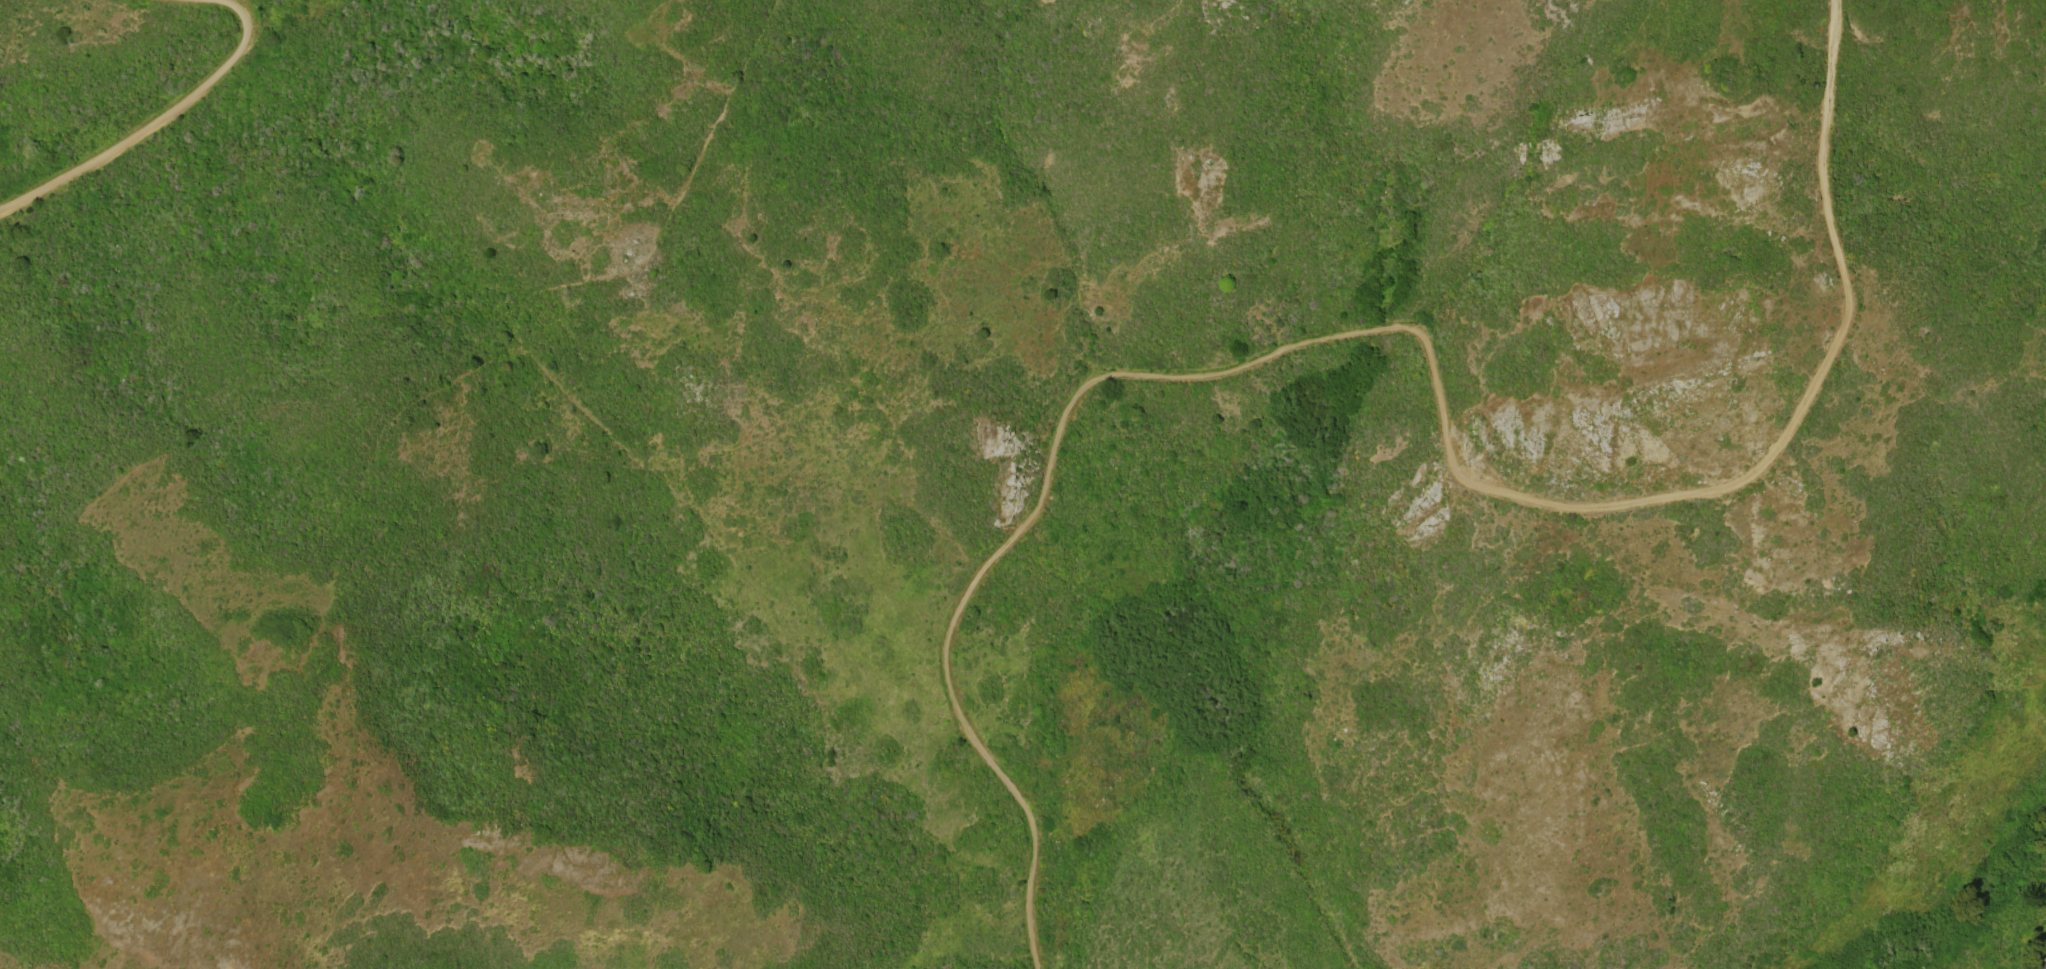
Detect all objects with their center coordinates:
road: (155, 120)
road: (1407, 327)

